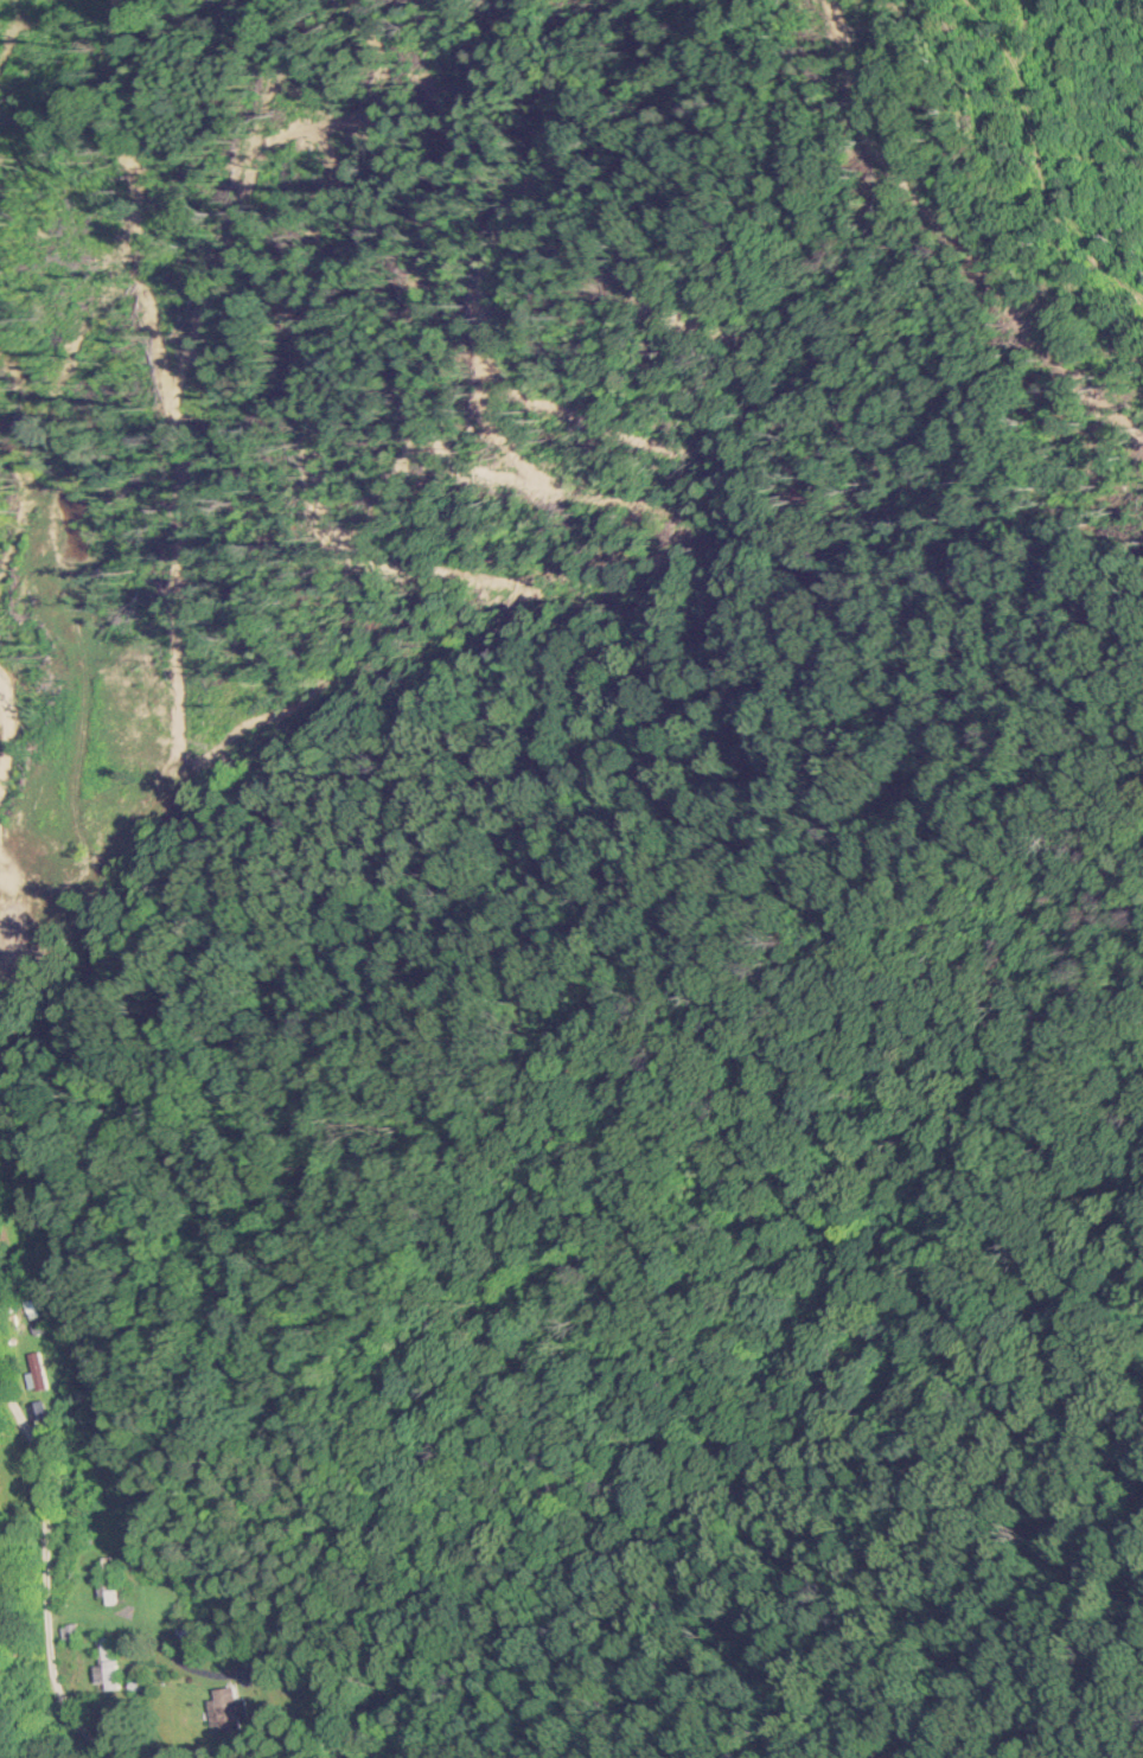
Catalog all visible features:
road: (47, 1572)
building: (226, 1712)

